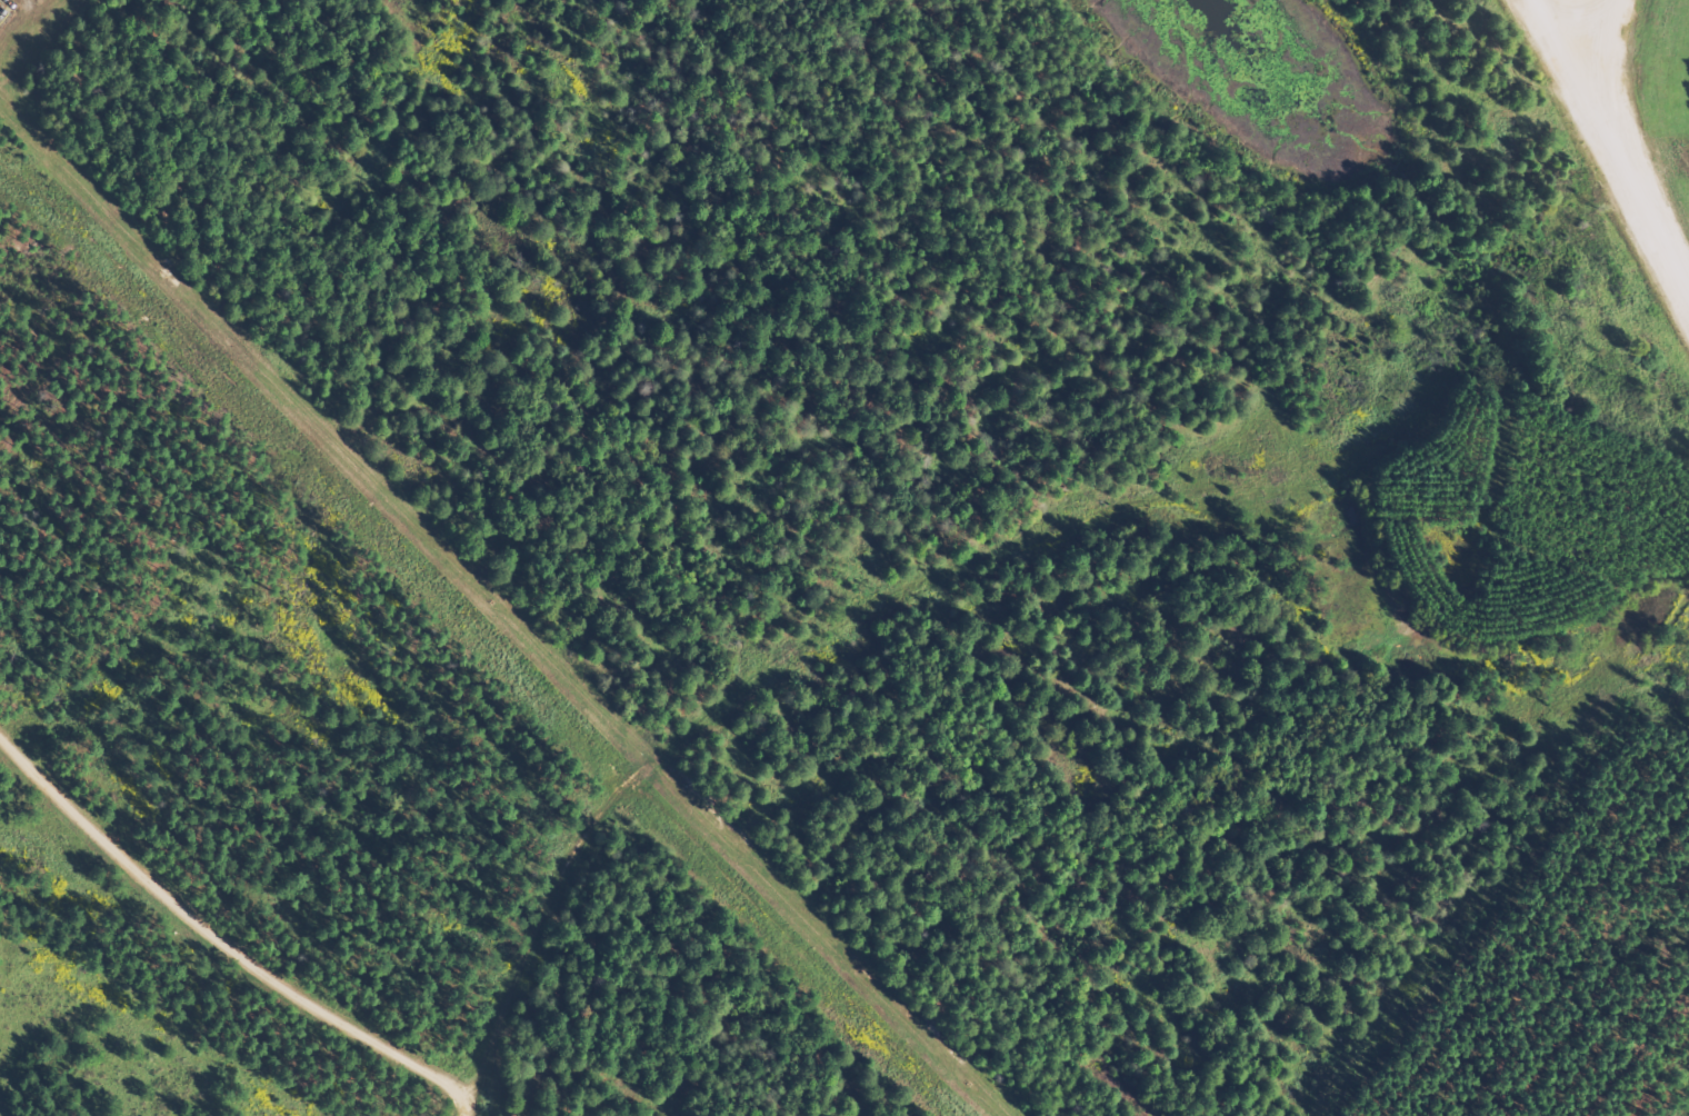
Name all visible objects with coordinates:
road: (1600, 39)
road: (1615, 138)
road: (224, 946)

